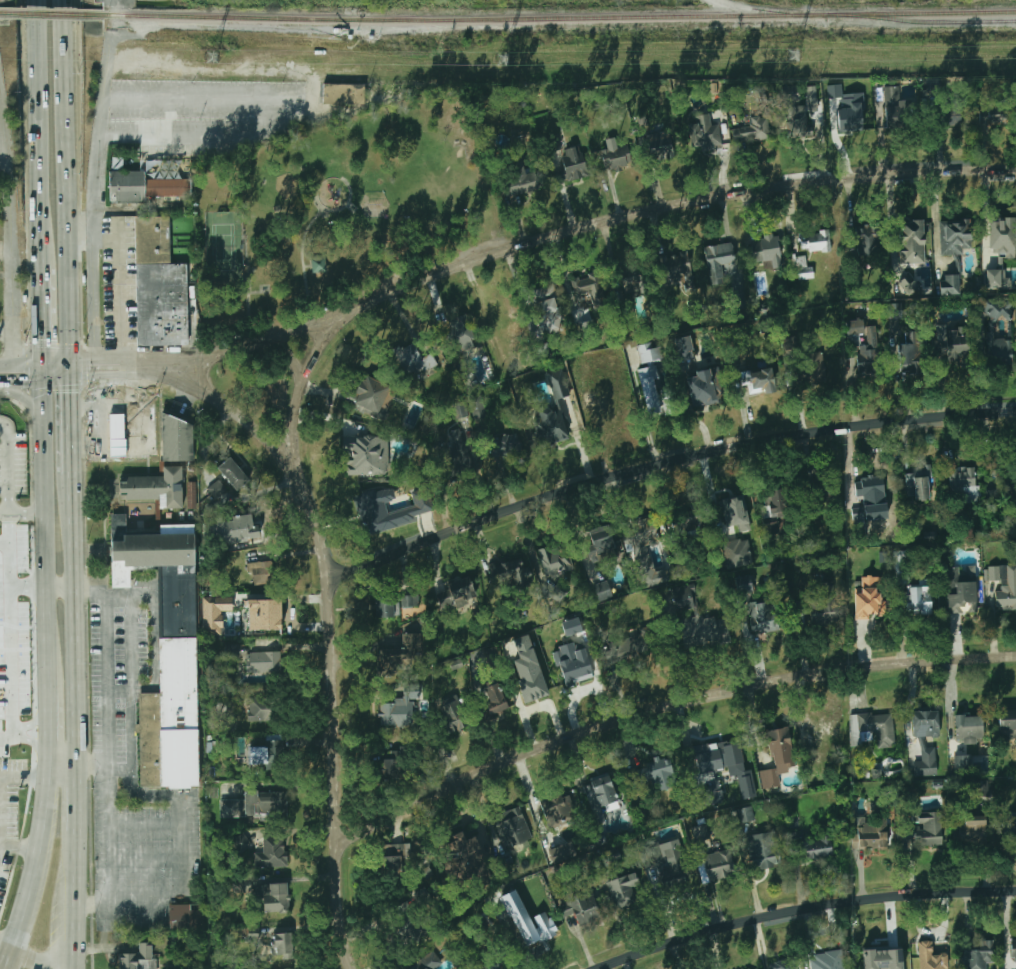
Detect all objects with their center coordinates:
railway: (53, 15)
railway: (561, 17)
railway: (933, 22)
power tower: (792, 56)
power tower: (213, 58)
power tower: (499, 59)
road: (316, 82)
building: (343, 93)
parking lot: (208, 96)
road: (64, 97)
road: (36, 98)
building: (811, 98)
building: (892, 106)
building: (848, 110)
building: (953, 117)
building: (701, 131)
building: (751, 131)
road: (201, 135)
building: (660, 145)
building: (615, 155)
road: (4, 162)
building: (573, 164)
building: (523, 180)
building: (127, 186)
building: (166, 187)
road: (95, 190)
road: (685, 202)
road: (345, 208)
road: (567, 208)
park: (340, 210)
road: (520, 223)
road: (12, 227)
road: (39, 230)
road: (80, 232)
building: (1002, 235)
building: (954, 236)
building: (865, 239)
building: (819, 241)
building: (912, 242)
park: (224, 248)
building: (765, 249)
road: (304, 263)
building: (720, 263)
road: (310, 267)
building: (676, 267)
building: (803, 268)
road: (67, 276)
building: (997, 277)
building: (634, 280)
road: (119, 283)
building: (908, 283)
building: (950, 284)
building: (159, 286)
building: (589, 288)
road: (250, 289)
road: (261, 294)
building: (740, 301)
building: (544, 305)
building: (996, 308)
building: (894, 310)
road: (40, 313)
road: (310, 324)
building: (855, 327)
road: (7, 329)
building: (460, 334)
traffic signals: (42, 336)
road: (329, 338)
building: (953, 341)
building: (684, 349)
building: (998, 350)
building: (648, 352)
road: (104, 353)
traffic signals: (91, 355)
road: (156, 355)
road: (196, 357)
building: (908, 358)
road: (56, 359)
building: (412, 360)
road: (21, 362)
road: (70, 366)
road: (150, 372)
road: (35, 378)
traffic signals: (23, 379)
building: (758, 379)
building: (558, 383)
road: (115, 388)
building: (649, 388)
building: (704, 388)
traffic signals: (71, 389)
building: (371, 394)
road: (141, 404)
road: (105, 405)
road: (33, 409)
road: (291, 419)
road: (71, 425)
road: (134, 426)
building: (551, 426)
road: (93, 430)
building: (121, 434)
road: (82, 436)
building: (177, 439)
building: (505, 446)
road: (122, 448)
road: (296, 449)
building: (456, 449)
road: (104, 450)
road: (279, 455)
building: (366, 455)
road: (664, 463)
building: (233, 474)
building: (918, 482)
road: (8, 484)
building: (814, 486)
building: (156, 487)
building: (218, 487)
building: (868, 487)
building: (776, 501)
building: (410, 510)
road: (4, 511)
building: (735, 512)
building: (119, 519)
building: (691, 519)
road: (45, 528)
building: (772, 528)
building: (237, 529)
road: (320, 534)
building: (600, 545)
building: (645, 553)
building: (738, 553)
building: (555, 559)
building: (901, 566)
building: (260, 571)
building: (513, 572)
building: (126, 573)
building: (744, 583)
building: (1004, 584)
road: (60, 587)
building: (962, 590)
building: (602, 591)
building: (459, 593)
building: (557, 593)
building: (870, 597)
building: (687, 598)
building: (919, 600)
building: (392, 603)
building: (820, 605)
building: (214, 613)
building: (264, 614)
building: (764, 616)
road: (73, 618)
building: (571, 626)
building: (704, 631)
building: (629, 647)
building: (232, 650)
building: (402, 654)
building: (263, 661)
building: (170, 662)
building: (526, 663)
building: (576, 670)
parking lot: (113, 673)
road: (105, 678)
road: (118, 690)
building: (534, 690)
building: (413, 691)
building: (495, 698)
road: (665, 708)
building: (261, 709)
building: (396, 712)
road: (334, 714)
building: (452, 714)
building: (926, 724)
building: (1007, 725)
building: (874, 727)
road: (49, 728)
building: (969, 729)
building: (821, 730)
building: (779, 741)
building: (718, 751)
building: (258, 755)
road: (63, 760)
building: (926, 762)
building: (963, 763)
road: (116, 769)
road: (130, 769)
building: (390, 769)
building: (655, 771)
building: (814, 772)
building: (769, 778)
road: (0, 782)
building: (981, 788)
parking lot: (10, 793)
building: (706, 793)
building: (601, 794)
road: (75, 796)
building: (256, 804)
building: (554, 806)
building: (745, 814)
road: (41, 828)
building: (927, 830)
building: (973, 830)
building: (513, 831)
road: (108, 832)
building: (701, 832)
building: (874, 834)
road: (19, 841)
building: (240, 842)
building: (817, 848)
building: (764, 850)
building: (272, 851)
parking lot: (7, 852)
building: (462, 854)
building: (394, 857)
parking lot: (139, 860)
building: (718, 866)
building: (674, 870)
parking lot: (4, 879)
building: (624, 889)
building: (273, 896)
building: (423, 897)
road: (75, 900)
road: (342, 907)
building: (584, 909)
road: (805, 909)
building: (183, 917)
road: (19, 922)
building: (406, 924)
road: (933, 932)
building: (537, 935)
building: (280, 943)
road: (6, 944)
building: (1013, 952)
building: (979, 955)
building: (930, 957)
building: (138, 958)
road: (8, 959)
building: (883, 959)
building: (830, 960)
road: (35, 961)
building: (428, 962)
building: (781, 965)

